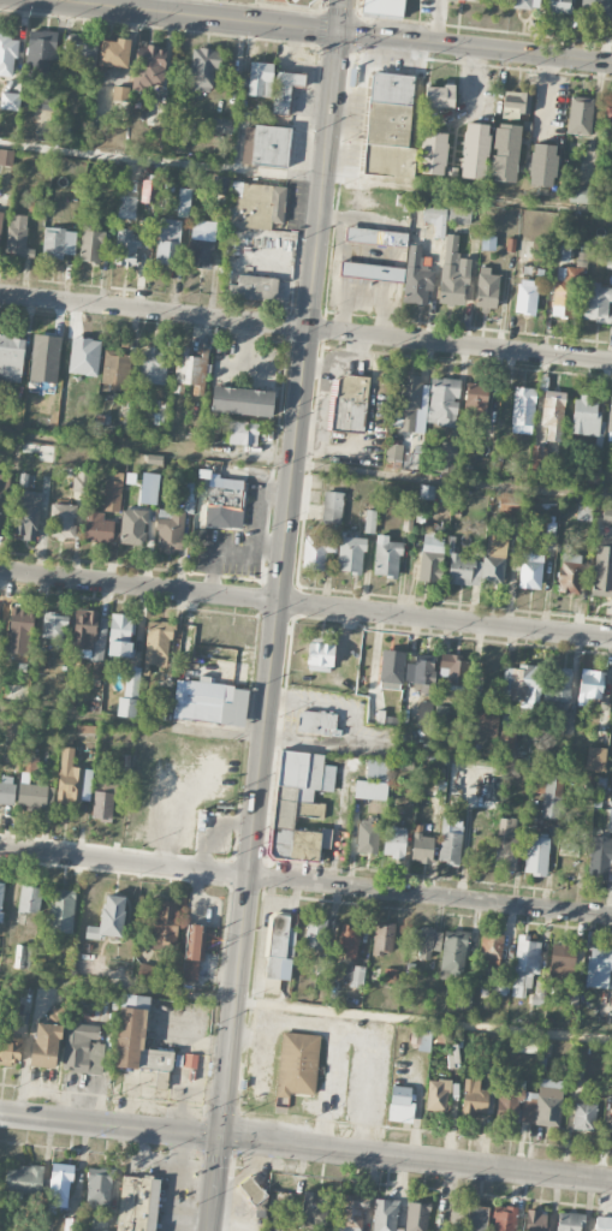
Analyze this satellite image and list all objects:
building: (474, 0)
building: (293, 1)
building: (521, 4)
building: (560, 6)
building: (382, 7)
building: (595, 8)
road: (256, 11)
road: (198, 14)
traffic signals: (340, 31)
road: (475, 47)
building: (40, 53)
building: (113, 53)
building: (7, 54)
building: (78, 58)
building: (149, 66)
building: (203, 69)
building: (260, 79)
building: (285, 90)
building: (120, 94)
building: (439, 96)
building: (10, 101)
building: (515, 105)
building: (580, 115)
building: (608, 124)
building: (221, 126)
building: (388, 127)
building: (265, 147)
building: (474, 150)
building: (433, 153)
building: (505, 153)
building: (6, 157)
building: (542, 165)
road: (305, 177)
building: (219, 185)
building: (582, 194)
building: (184, 201)
building: (126, 204)
building: (260, 207)
building: (459, 215)
building: (0, 220)
building: (435, 220)
building: (18, 237)
building: (375, 237)
building: (168, 242)
building: (58, 243)
building: (90, 243)
building: (487, 243)
building: (201, 244)
building: (129, 246)
building: (562, 251)
building: (608, 262)
building: (370, 272)
building: (453, 274)
building: (416, 278)
road: (292, 279)
road: (72, 284)
building: (254, 287)
building: (486, 289)
building: (525, 297)
building: (562, 299)
building: (596, 303)
road: (263, 304)
road: (53, 317)
road: (305, 328)
road: (259, 340)
building: (44, 352)
building: (84, 356)
building: (11, 358)
building: (153, 367)
building: (190, 369)
building: (115, 370)
building: (475, 400)
building: (242, 402)
building: (442, 402)
building: (349, 404)
building: (406, 404)
building: (523, 410)
building: (553, 415)
building: (586, 417)
building: (610, 422)
building: (243, 434)
building: (393, 452)
building: (447, 457)
building: (410, 460)
road: (452, 482)
building: (149, 488)
building: (427, 492)
building: (112, 496)
building: (1, 501)
building: (224, 502)
building: (510, 505)
building: (332, 507)
building: (584, 513)
building: (26, 516)
building: (607, 516)
building: (63, 521)
building: (369, 522)
building: (132, 527)
building: (99, 529)
building: (170, 531)
building: (317, 552)
building: (350, 555)
building: (386, 557)
building: (568, 557)
building: (432, 558)
building: (481, 565)
road: (283, 569)
building: (602, 569)
building: (530, 571)
building: (569, 578)
road: (305, 605)
building: (20, 623)
building: (53, 626)
building: (88, 635)
building: (120, 635)
building: (158, 643)
building: (319, 655)
building: (392, 667)
building: (454, 670)
building: (422, 673)
building: (559, 684)
building: (522, 685)
building: (589, 686)
building: (127, 702)
building: (209, 703)
building: (424, 713)
road: (132, 722)
building: (482, 722)
building: (565, 722)
building: (317, 724)
road: (351, 726)
building: (87, 730)
building: (506, 739)
building: (4, 744)
building: (85, 756)
building: (595, 759)
building: (376, 769)
building: (72, 781)
building: (7, 790)
building: (370, 790)
building: (546, 790)
building: (34, 796)
building: (103, 802)
building: (299, 804)
building: (611, 820)
building: (367, 837)
building: (450, 839)
building: (394, 842)
building: (422, 849)
building: (506, 849)
building: (568, 849)
building: (536, 855)
building: (600, 858)
road: (305, 881)
building: (0, 899)
building: (29, 899)
road: (291, 903)
building: (61, 911)
building: (108, 918)
building: (165, 923)
building: (315, 934)
building: (382, 939)
road: (263, 940)
building: (347, 941)
building: (424, 941)
building: (491, 948)
building: (192, 951)
building: (279, 952)
building: (453, 952)
building: (22, 957)
building: (562, 962)
building: (524, 964)
building: (321, 968)
building: (598, 968)
building: (145, 973)
building: (352, 975)
building: (500, 987)
building: (539, 992)
road: (189, 994)
building: (571, 997)
building: (463, 1000)
building: (607, 1010)
road: (254, 1018)
road: (423, 1019)
road: (355, 1029)
building: (136, 1037)
building: (421, 1039)
building: (47, 1040)
building: (527, 1045)
building: (82, 1047)
building: (190, 1060)
building: (295, 1068)
building: (178, 1072)
building: (611, 1075)
road: (329, 1087)
building: (438, 1096)
building: (474, 1098)
building: (515, 1101)
building: (548, 1102)
building: (400, 1104)
building: (584, 1116)
building: (611, 1118)
road: (111, 1124)
traffic signals: (221, 1137)
road: (416, 1158)
building: (24, 1179)
road: (215, 1184)
building: (60, 1185)
building: (97, 1189)
building: (254, 1195)
building: (137, 1205)
building: (314, 1208)
building: (351, 1213)
building: (385, 1214)
building: (476, 1219)
building: (504, 1219)
building: (536, 1220)
building: (569, 1221)
building: (71, 1224)
building: (602, 1224)
building: (40, 1230)

